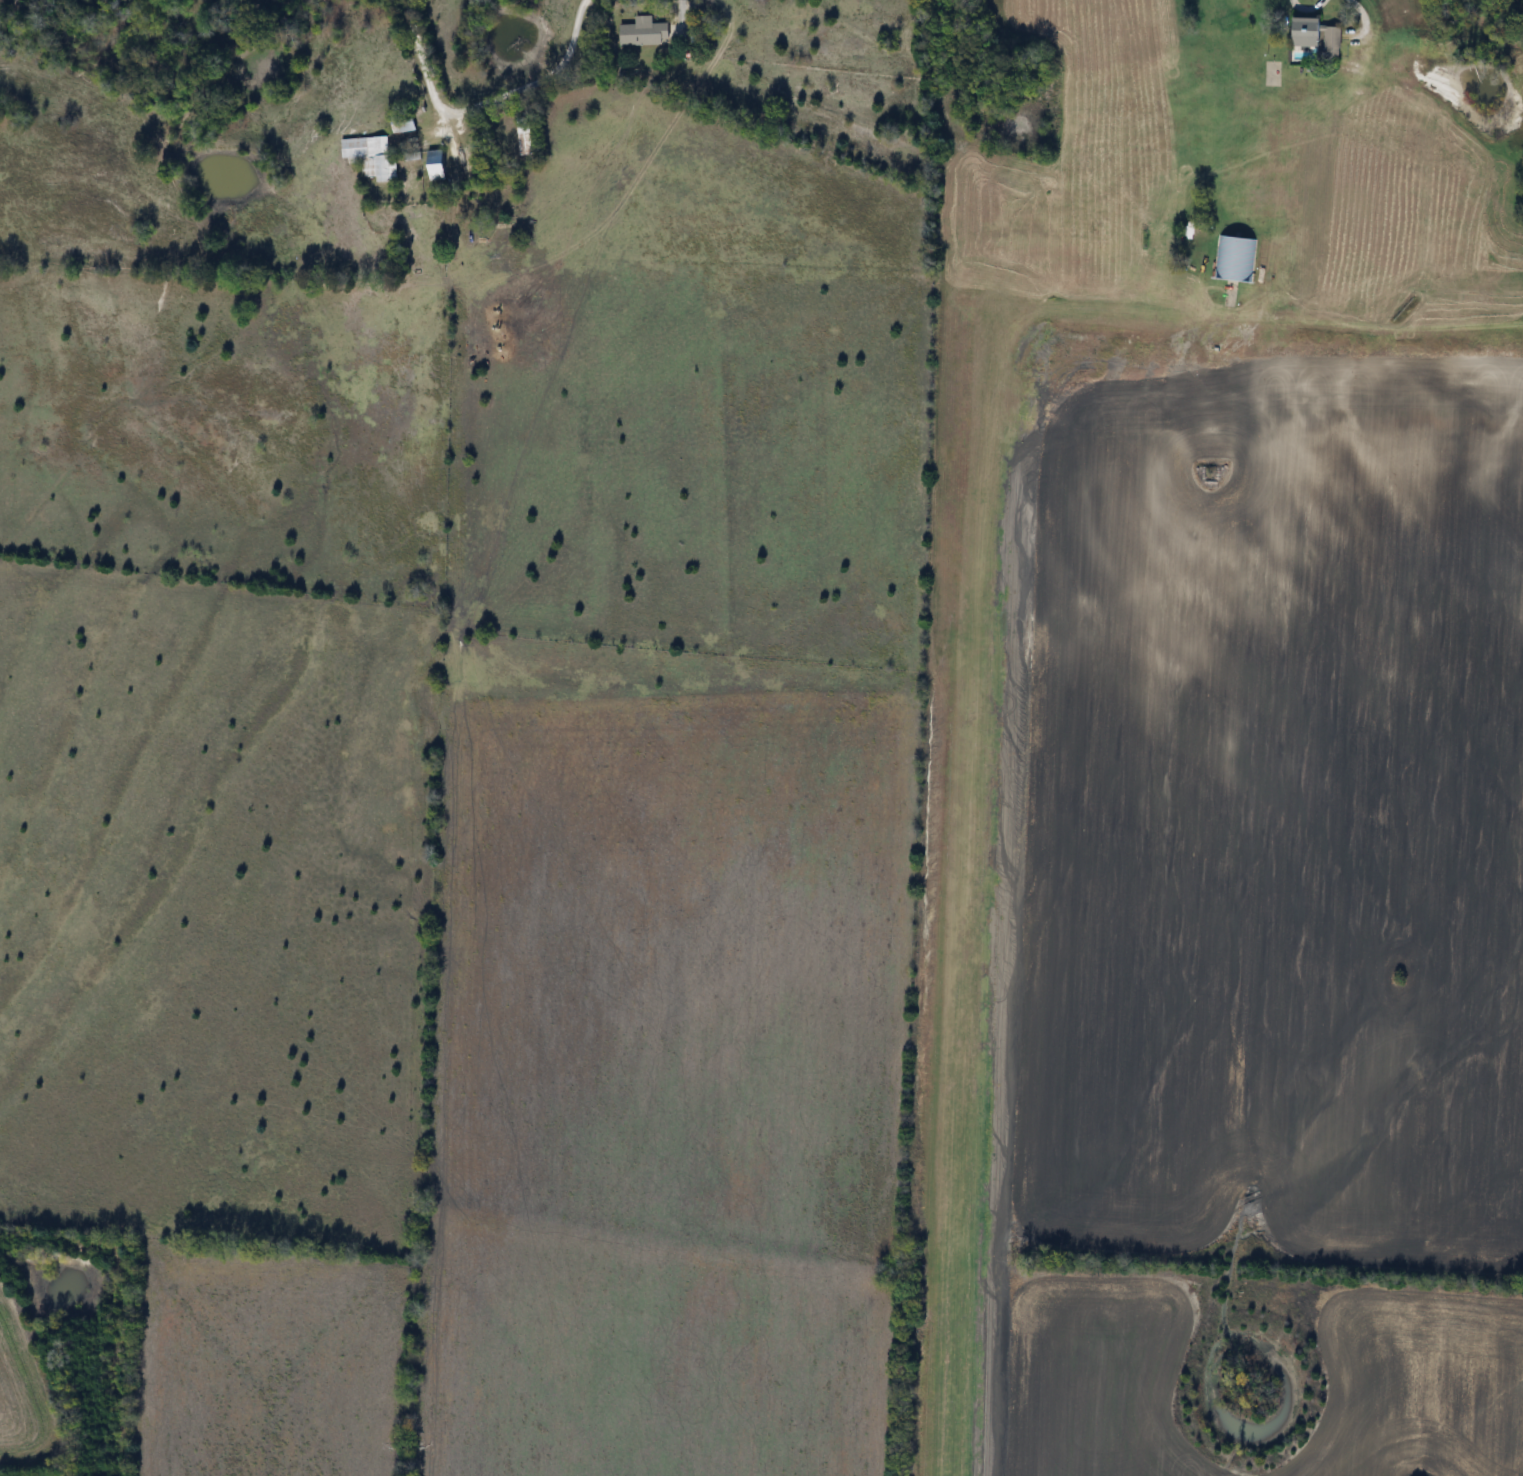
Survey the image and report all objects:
building: (645, 33)
building: (1318, 36)
road: (483, 101)
building: (403, 124)
building: (525, 137)
building: (371, 157)
building: (437, 166)
airport hangar: (1235, 258)
building: (1234, 260)
airport runway: (967, 863)

